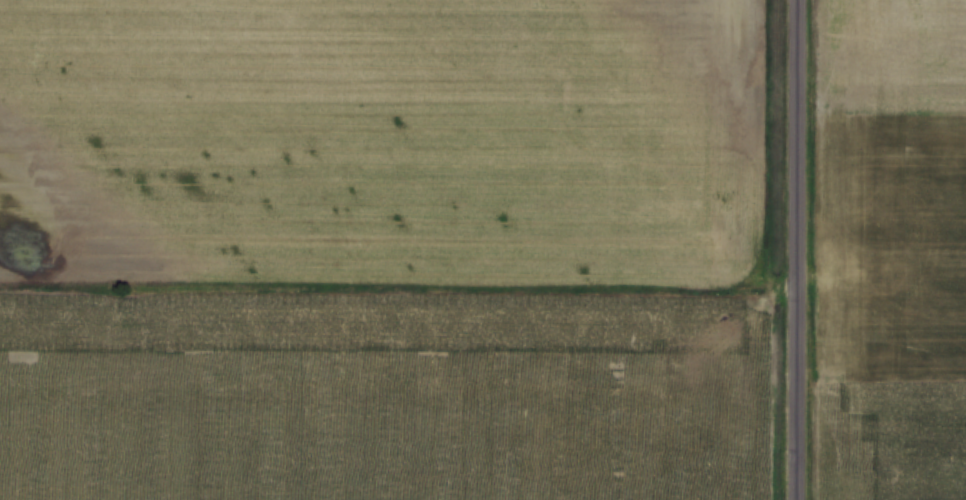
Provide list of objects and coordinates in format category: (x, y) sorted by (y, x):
road: (795, 250)

